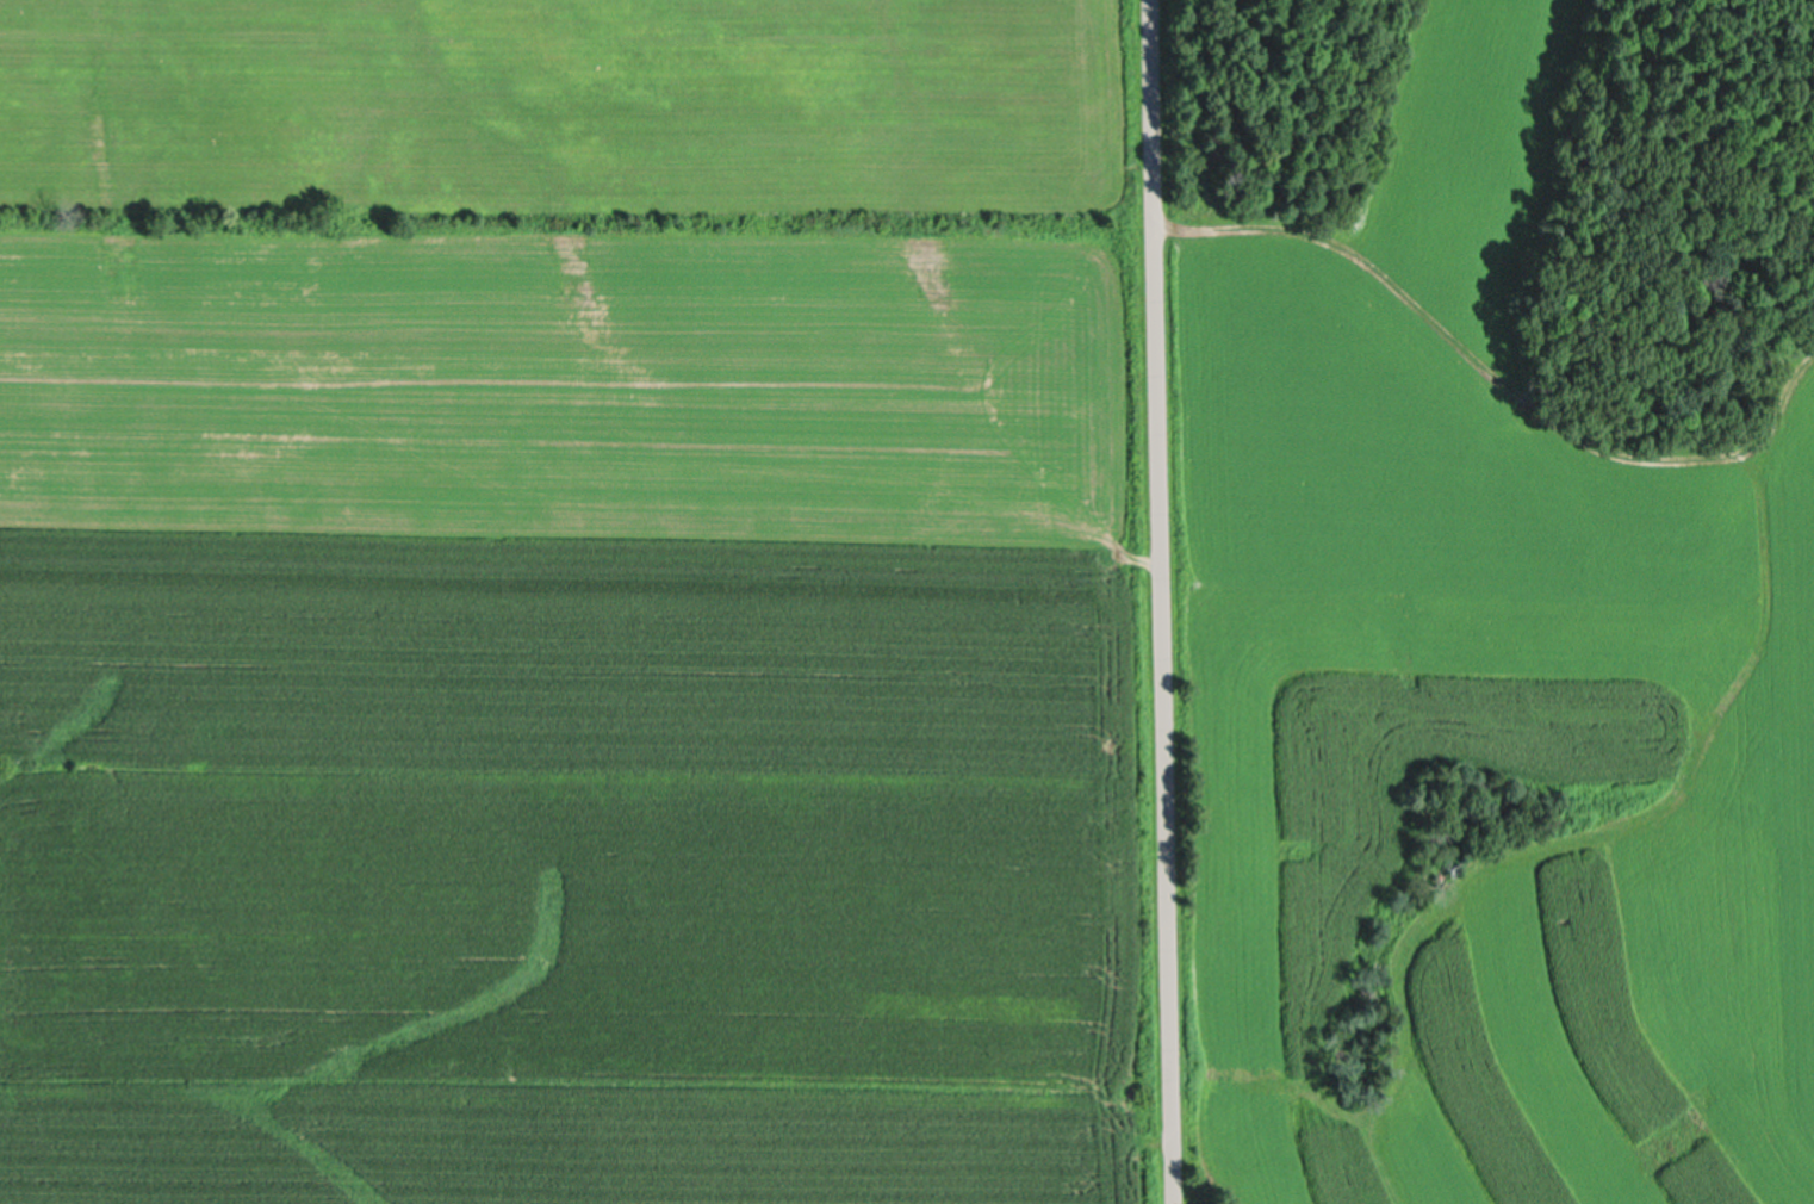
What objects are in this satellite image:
road: (1162, 602)

